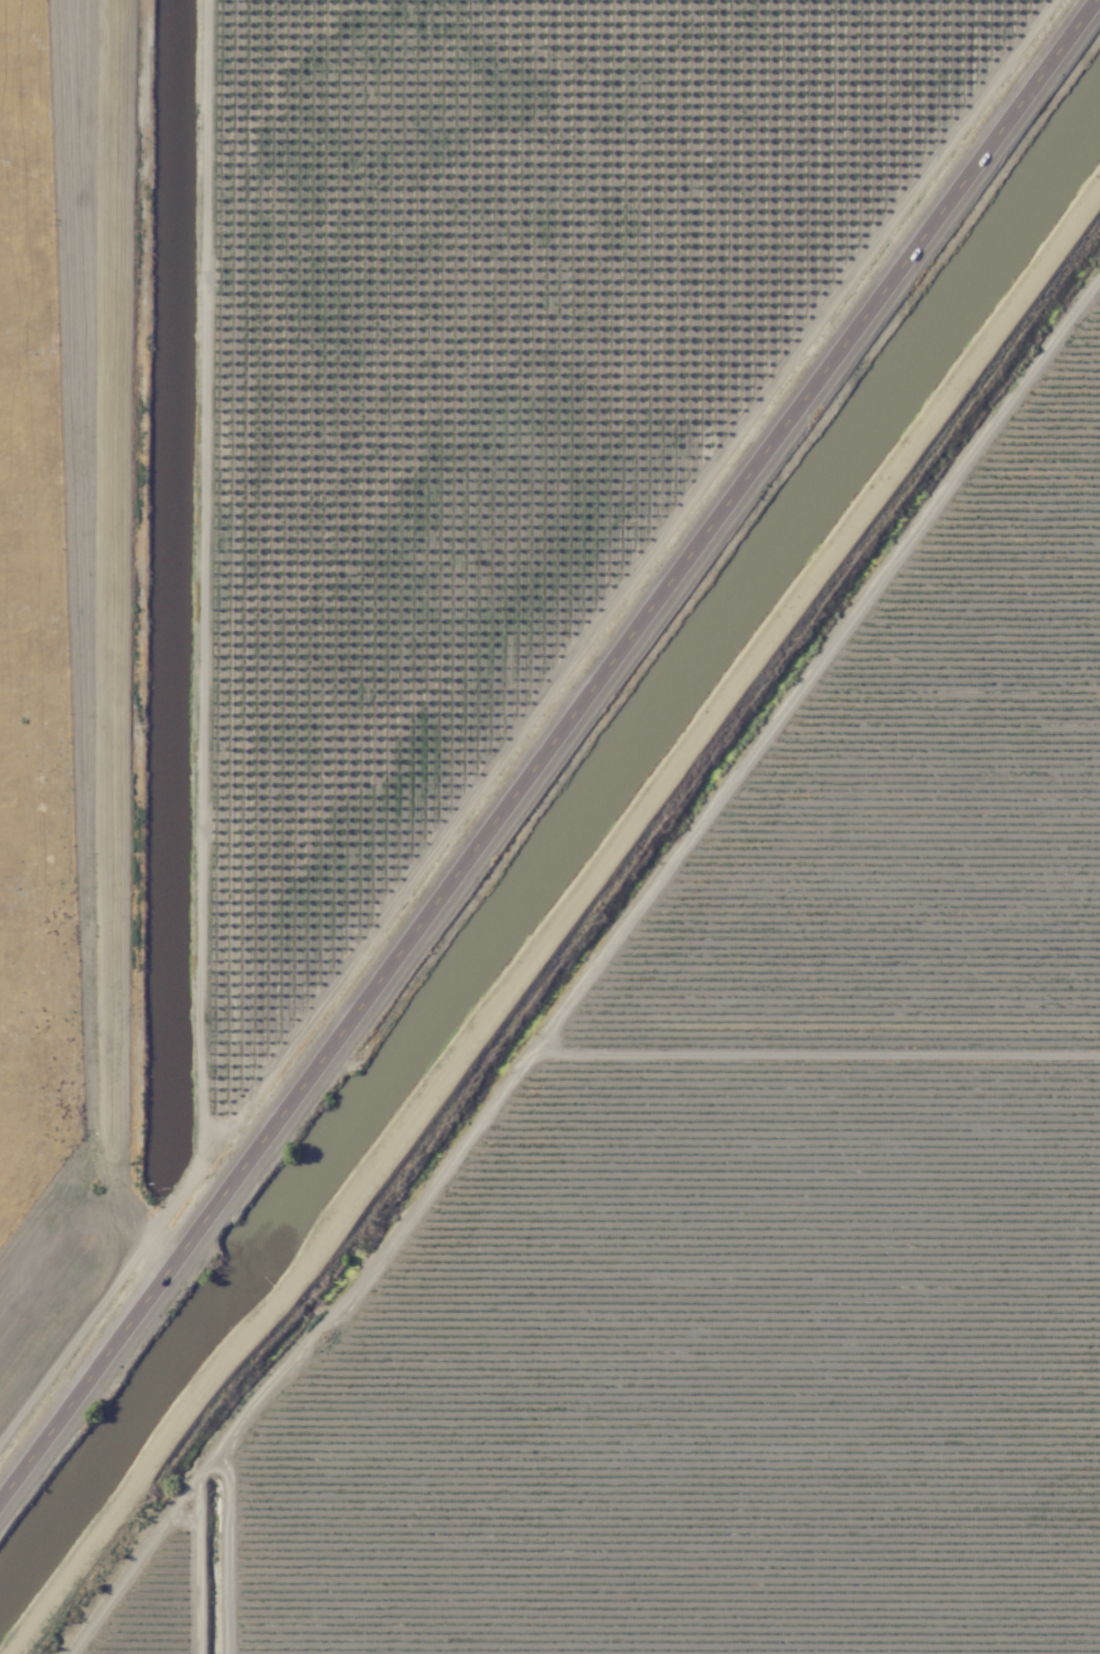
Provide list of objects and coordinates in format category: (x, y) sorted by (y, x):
road: (549, 763)
crop: (616, 849)

